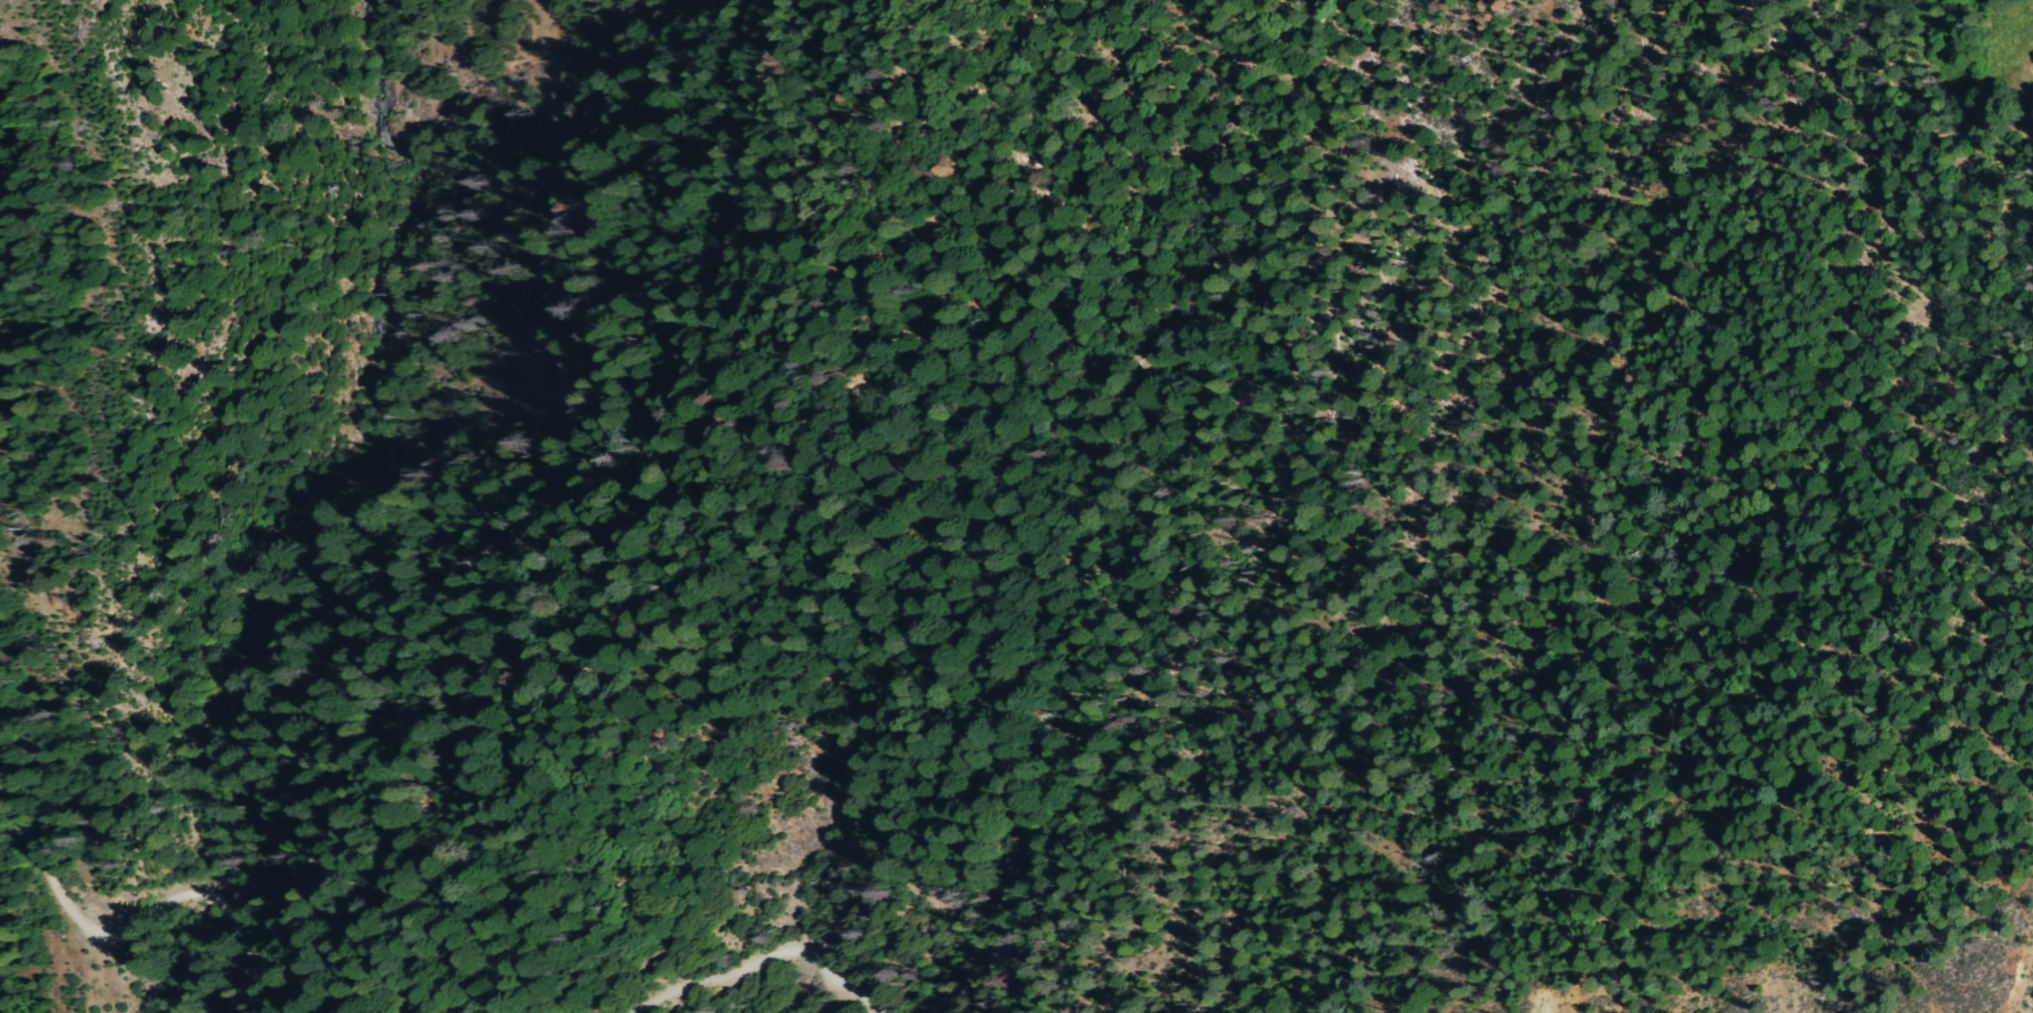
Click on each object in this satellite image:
road: (216, 901)
road: (74, 909)
road: (243, 956)
road: (764, 958)

